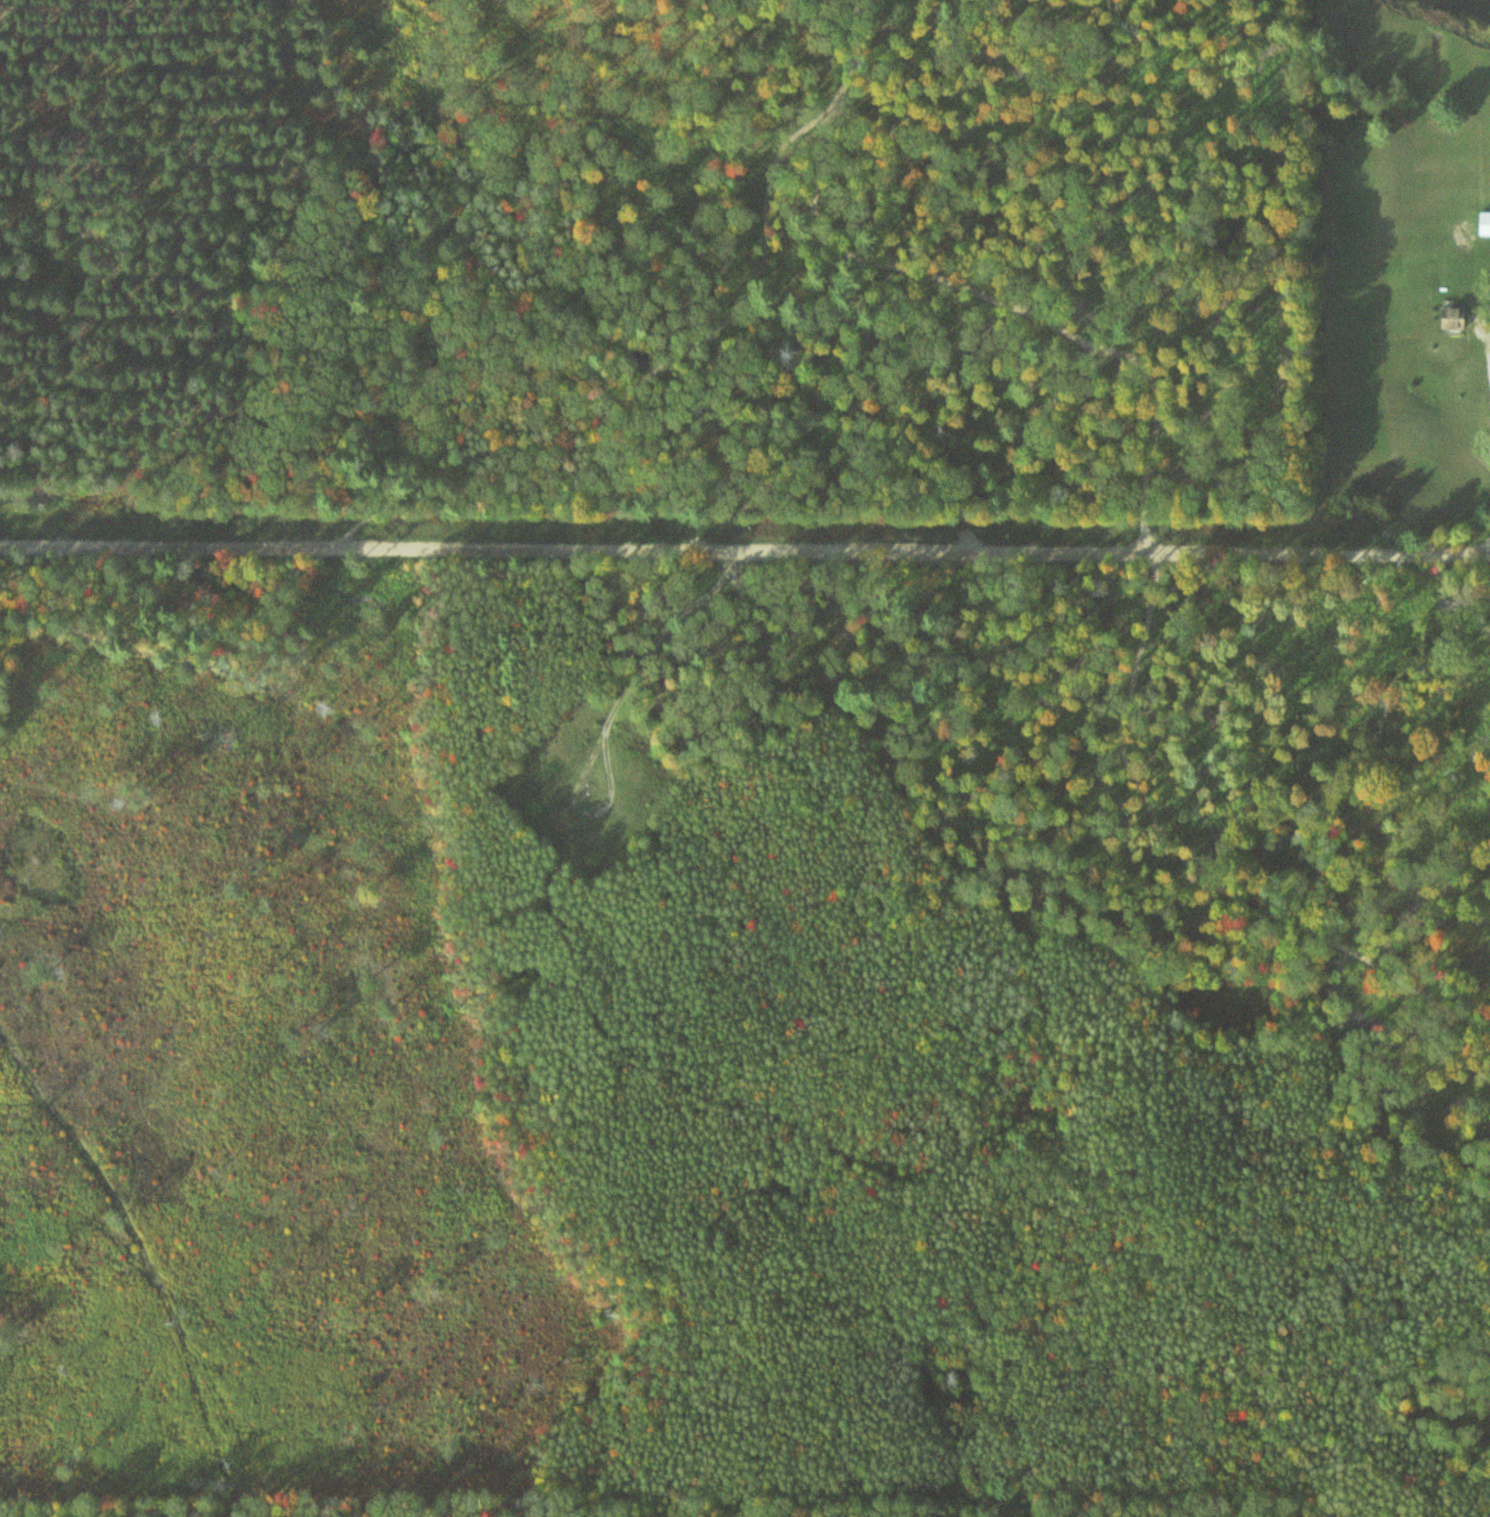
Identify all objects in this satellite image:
building: (1481, 224)
building: (1447, 318)
road: (1035, 319)
road: (507, 436)
road: (744, 548)
road: (661, 666)
road: (1193, 866)
road: (118, 1281)
road: (110, 1509)

